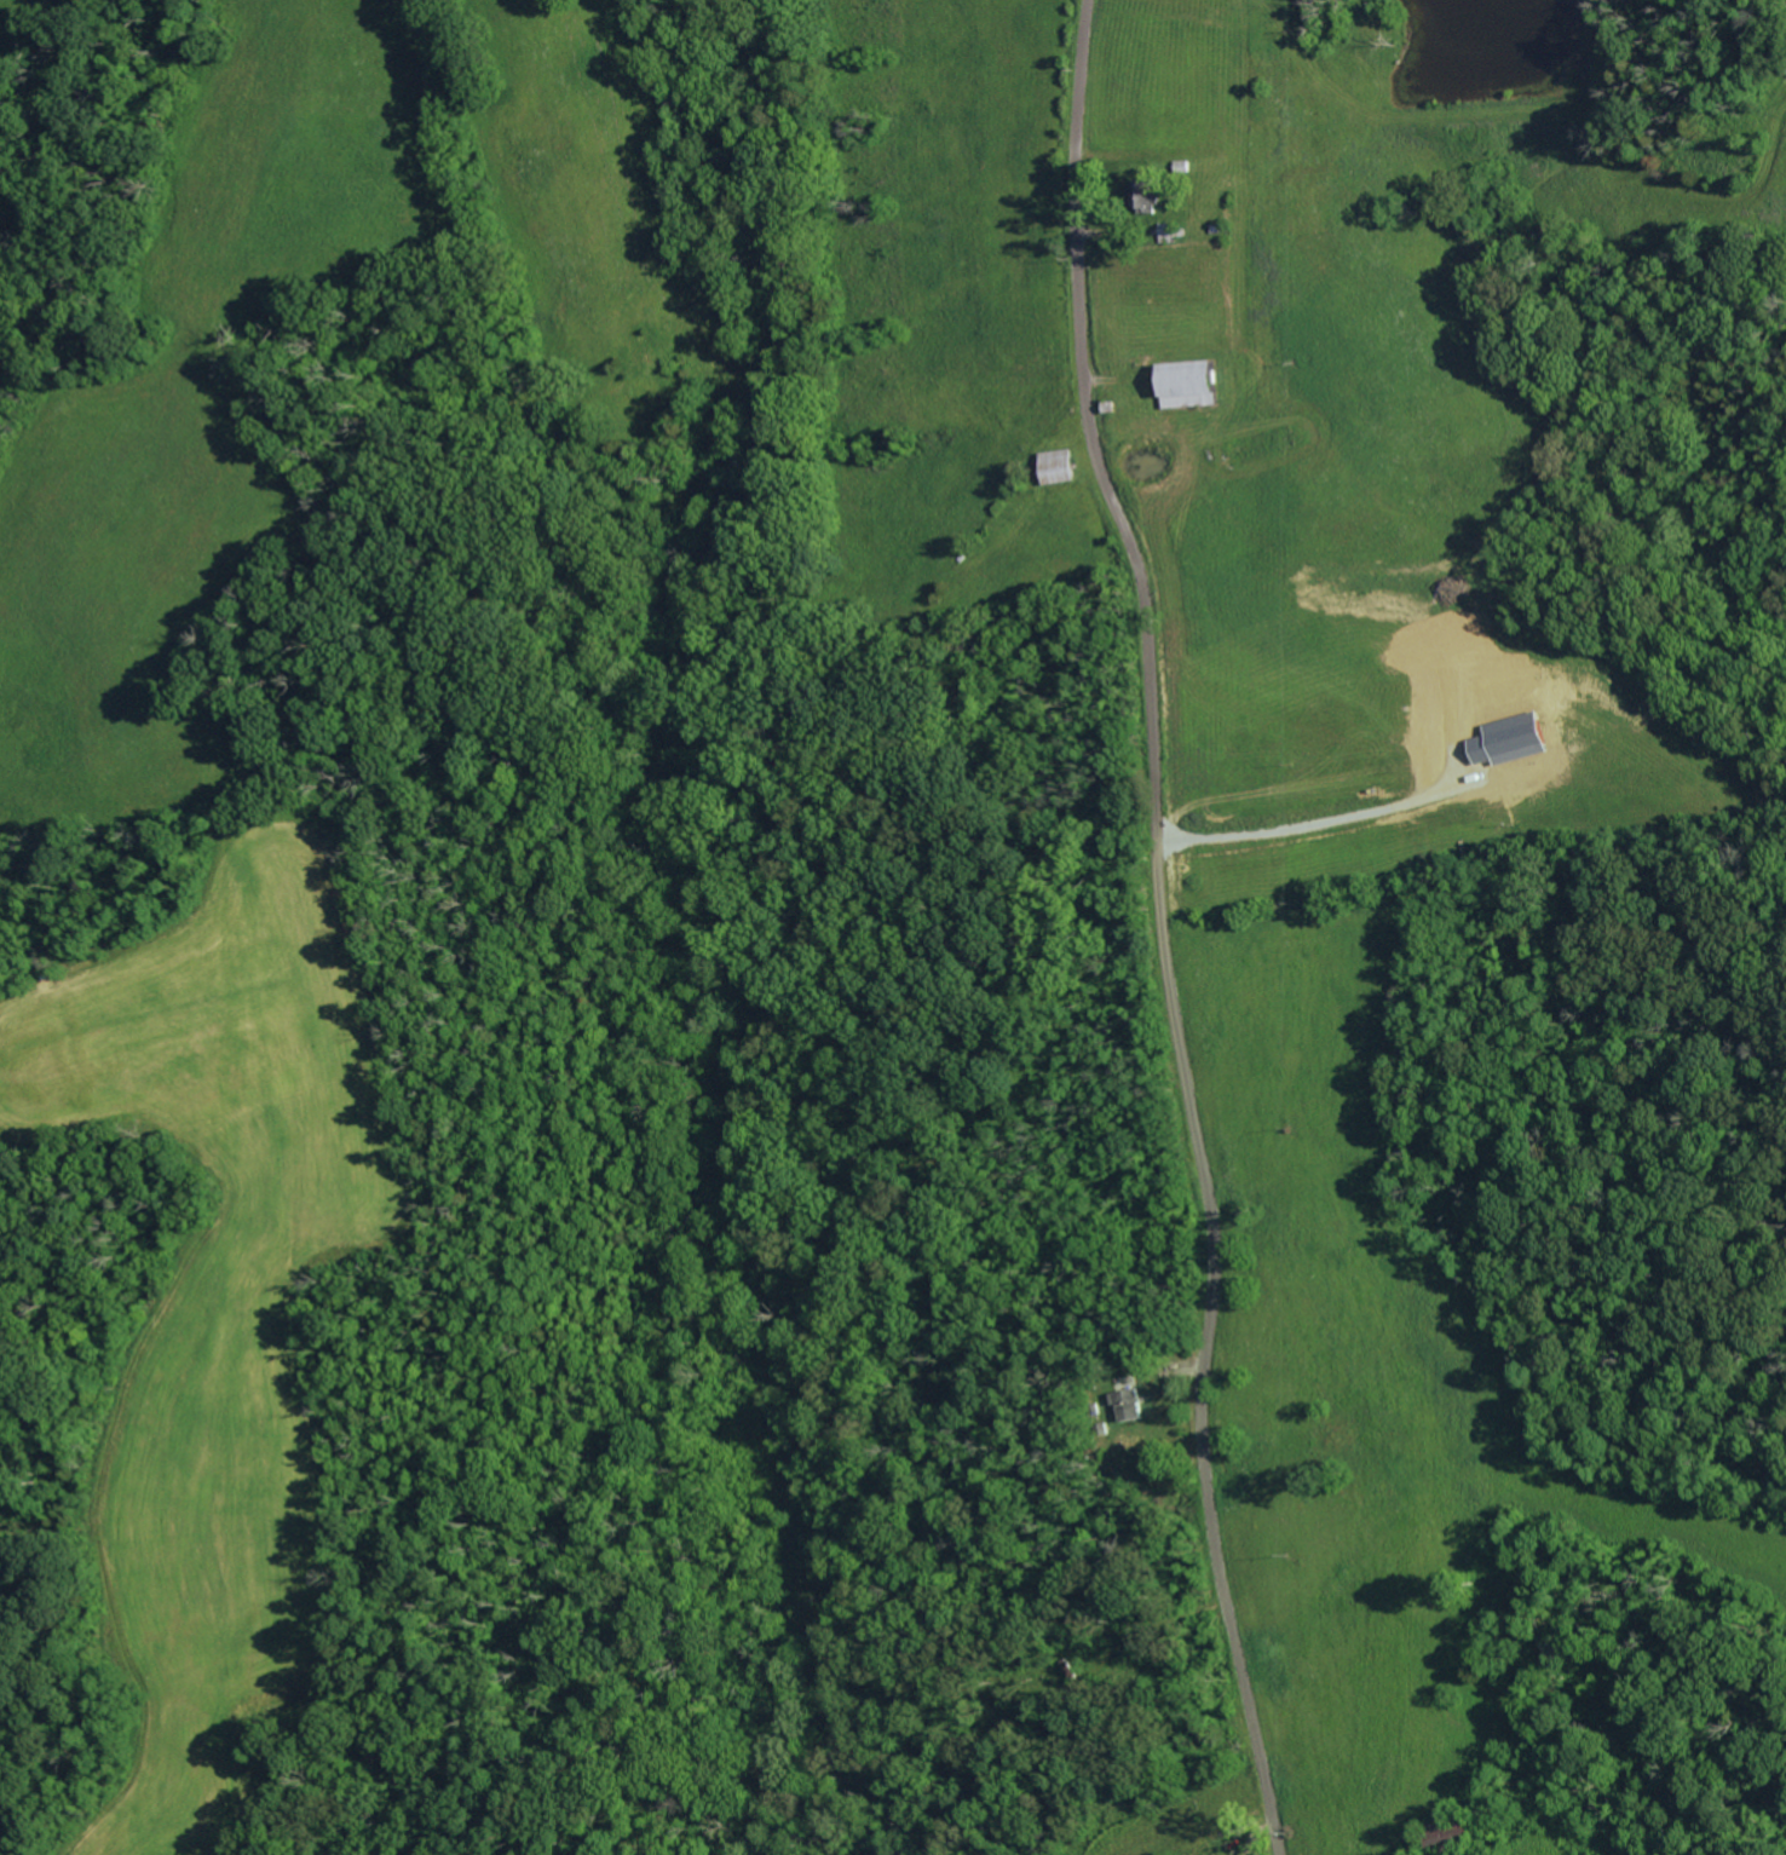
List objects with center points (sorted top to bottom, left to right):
building: (1150, 196)
building: (1170, 231)
building: (1192, 381)
road: (1308, 812)
road: (1164, 927)
building: (1131, 1404)

